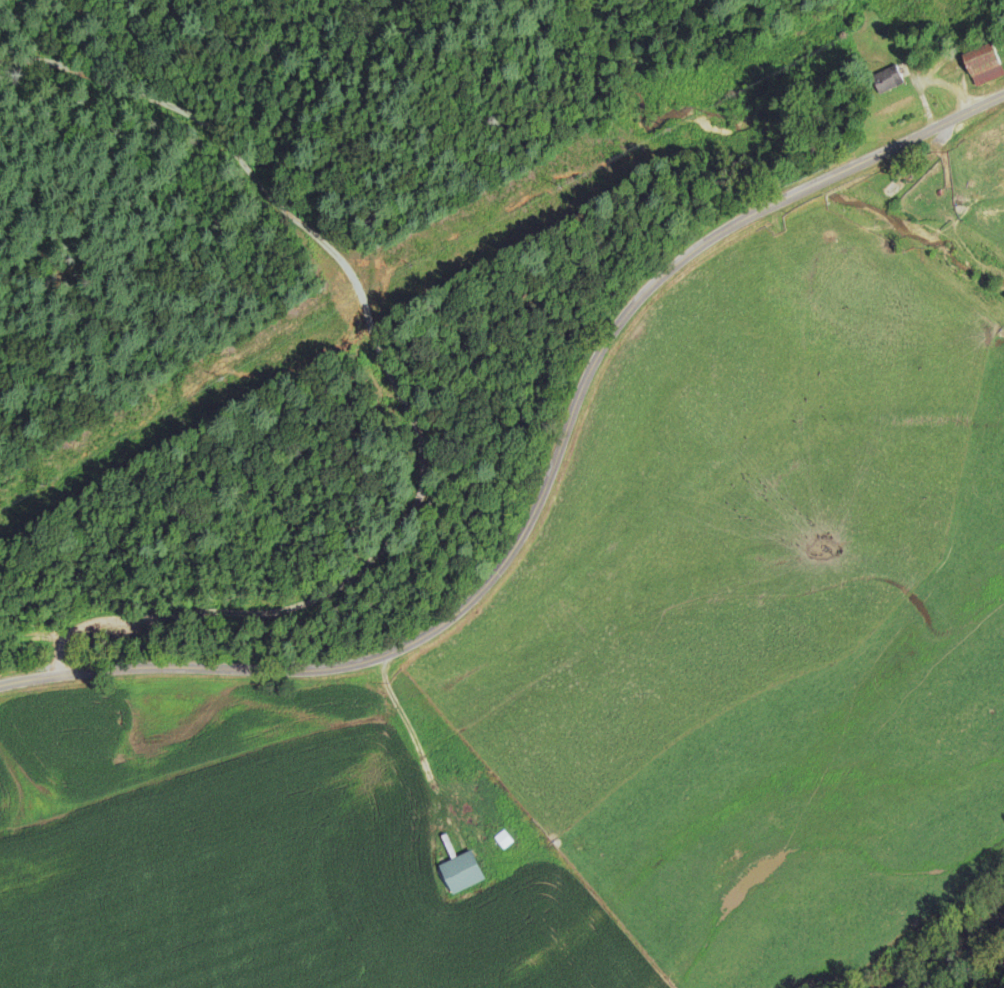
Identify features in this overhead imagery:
building: (984, 64)
building: (887, 79)
road: (546, 484)
building: (502, 840)
building: (464, 872)
river: (947, 946)
road: (983, 973)

